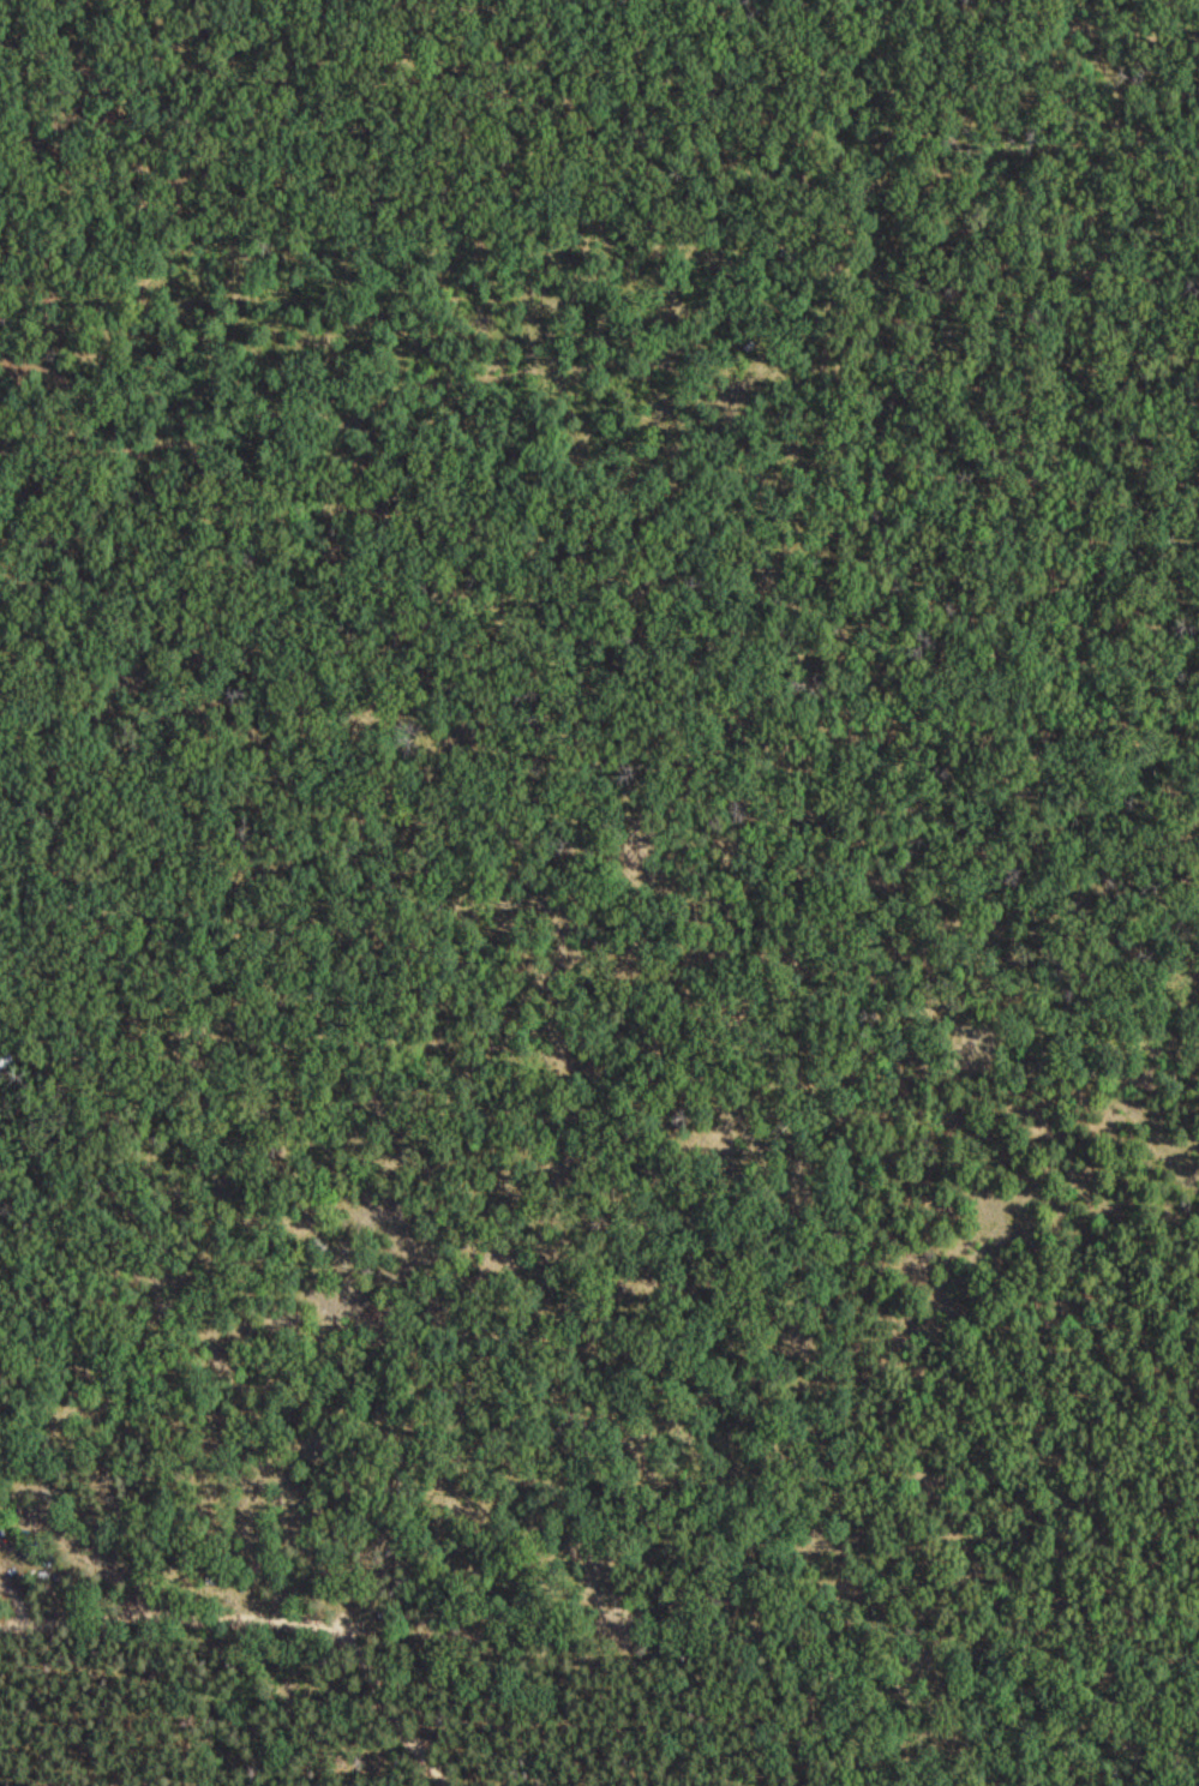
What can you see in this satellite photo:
building: (8, 1060)

